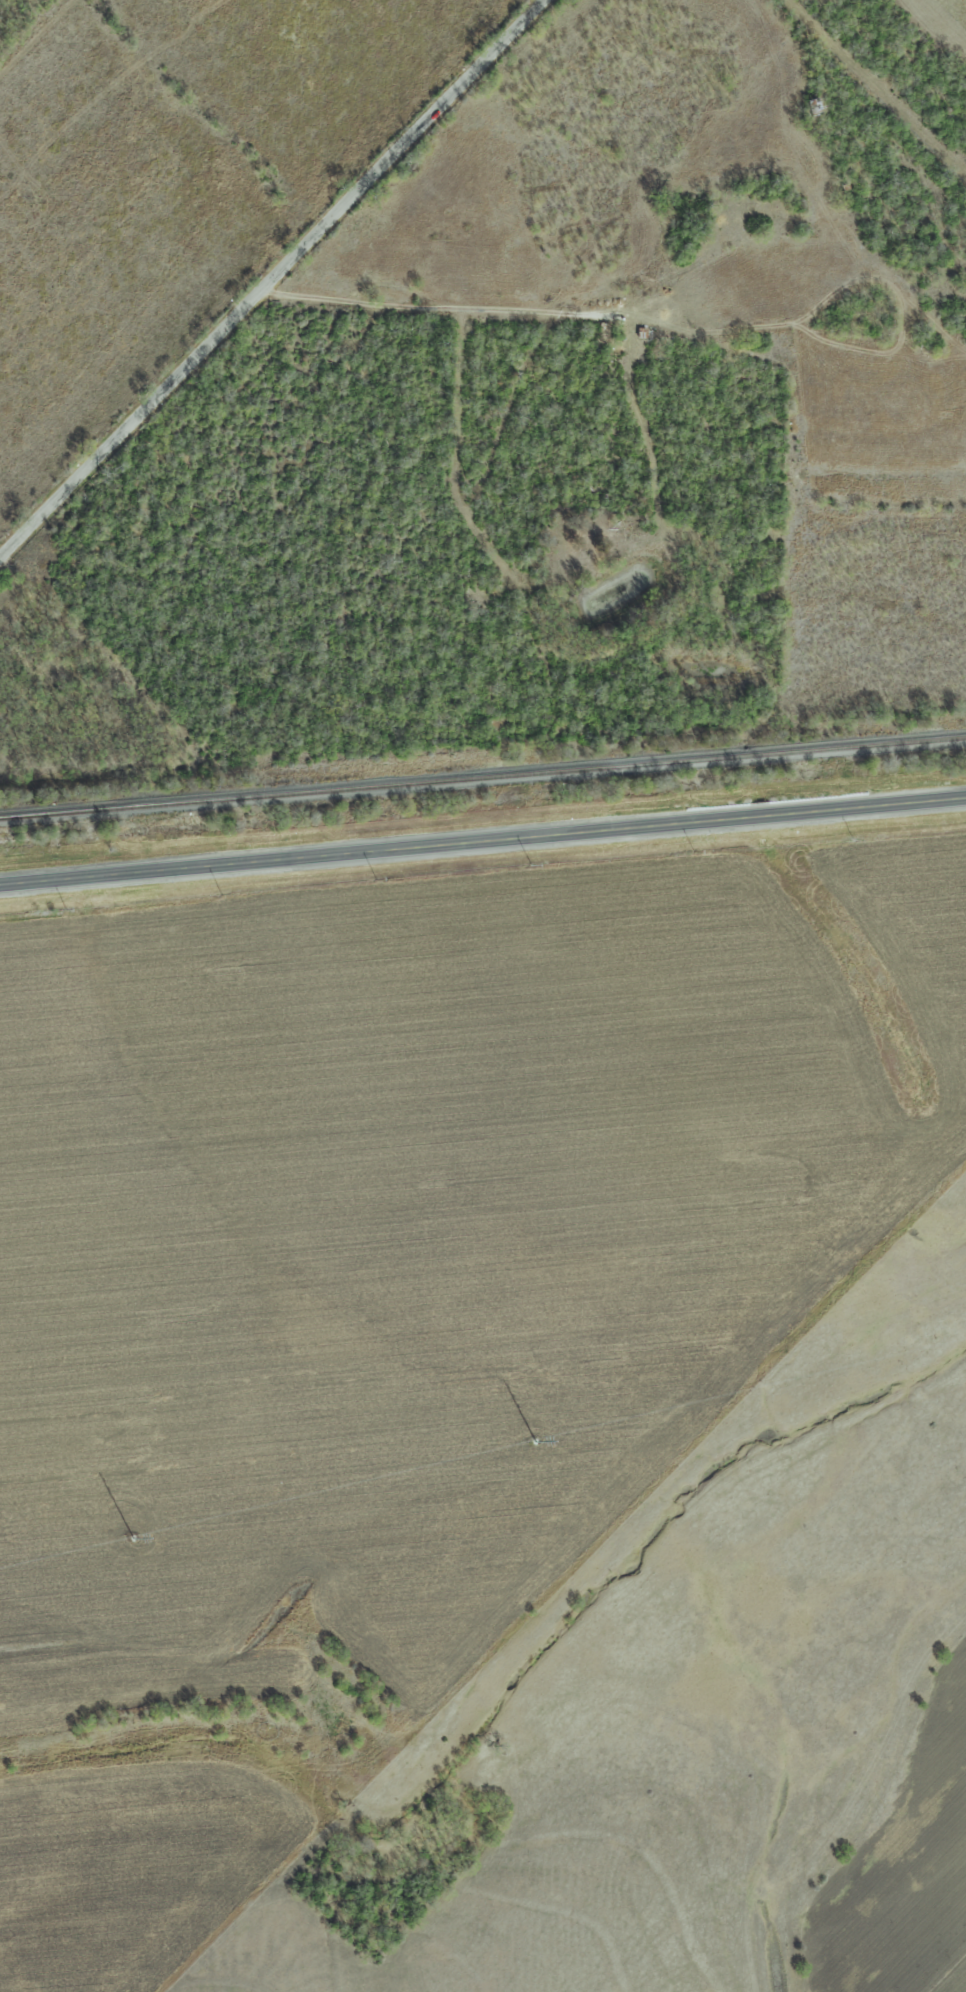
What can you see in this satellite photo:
road: (270, 278)
railway: (482, 778)
road: (483, 841)
power tower: (534, 1439)
power tower: (131, 1538)

